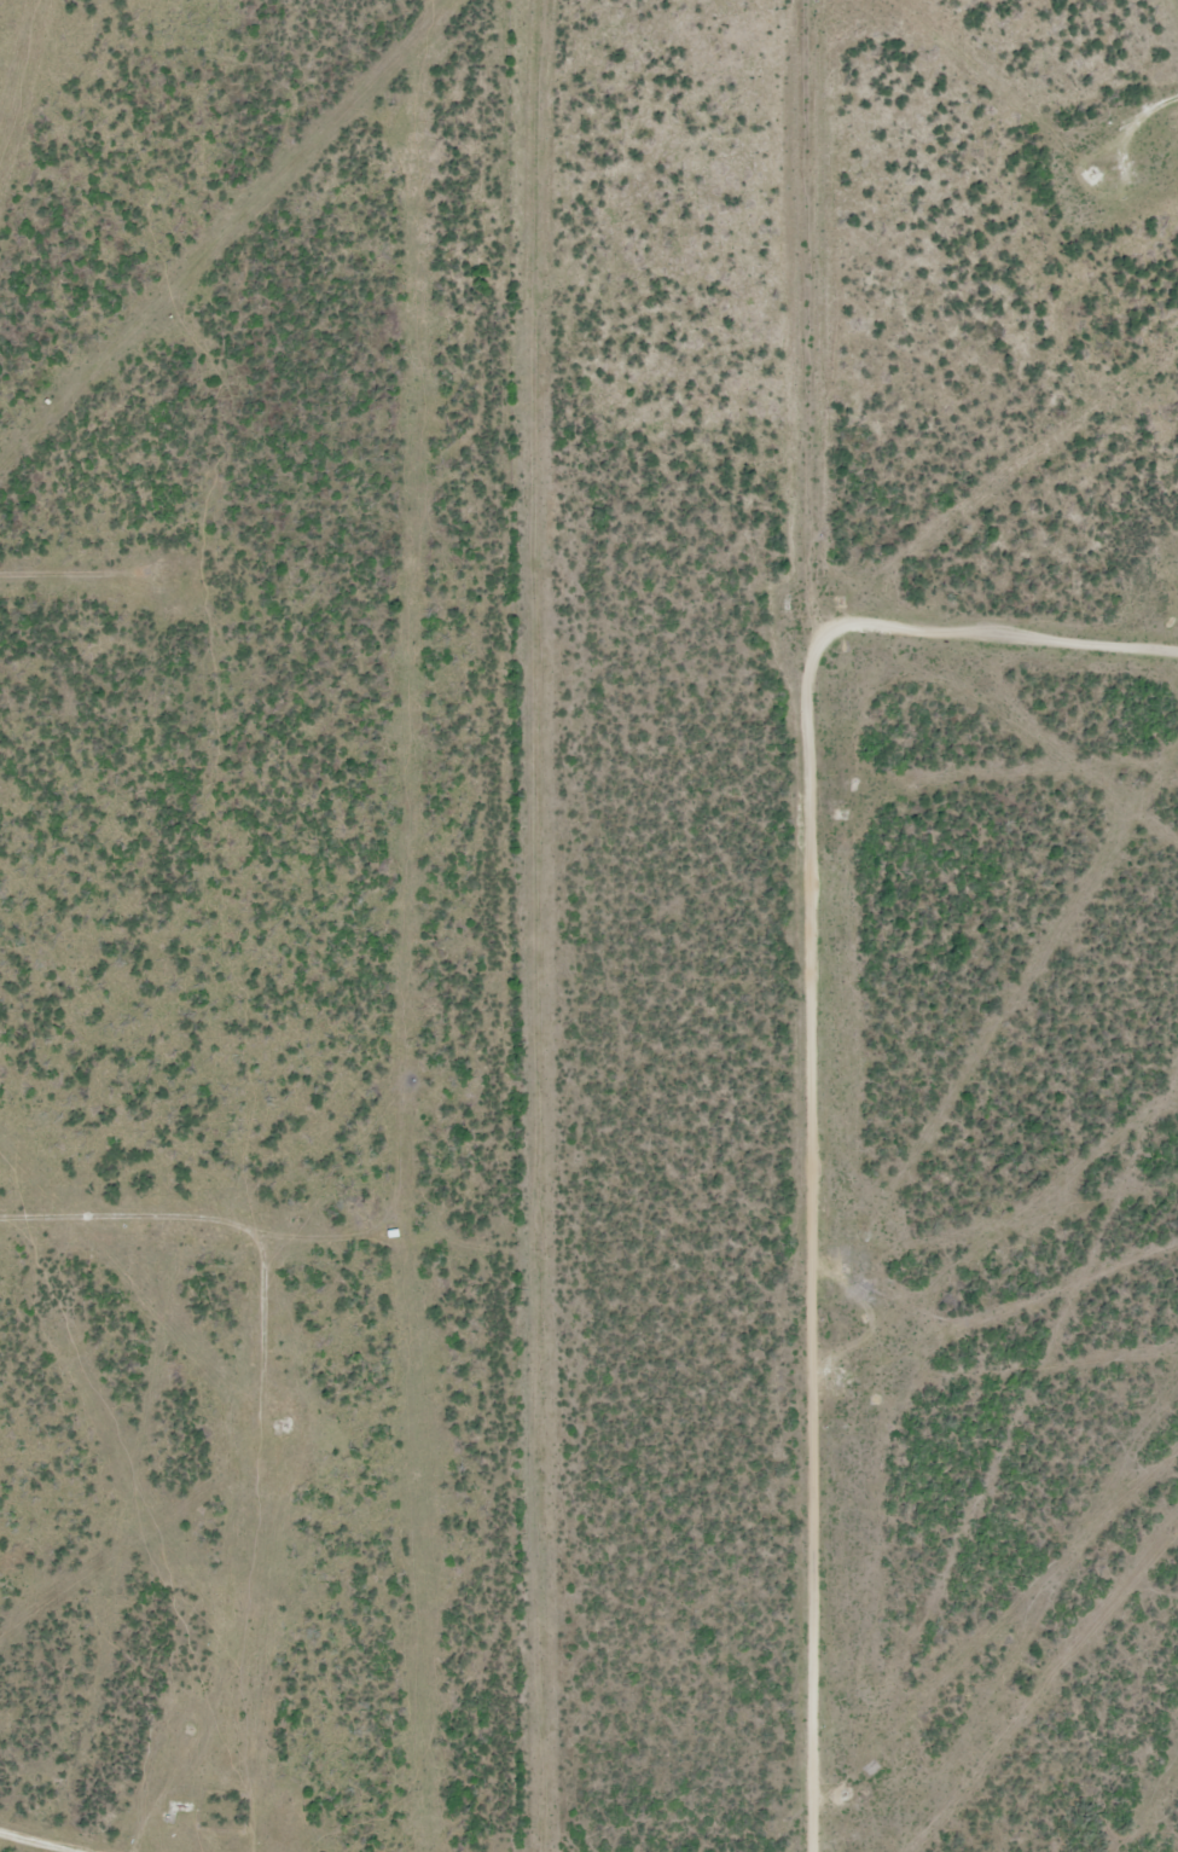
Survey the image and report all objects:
road: (813, 1063)

